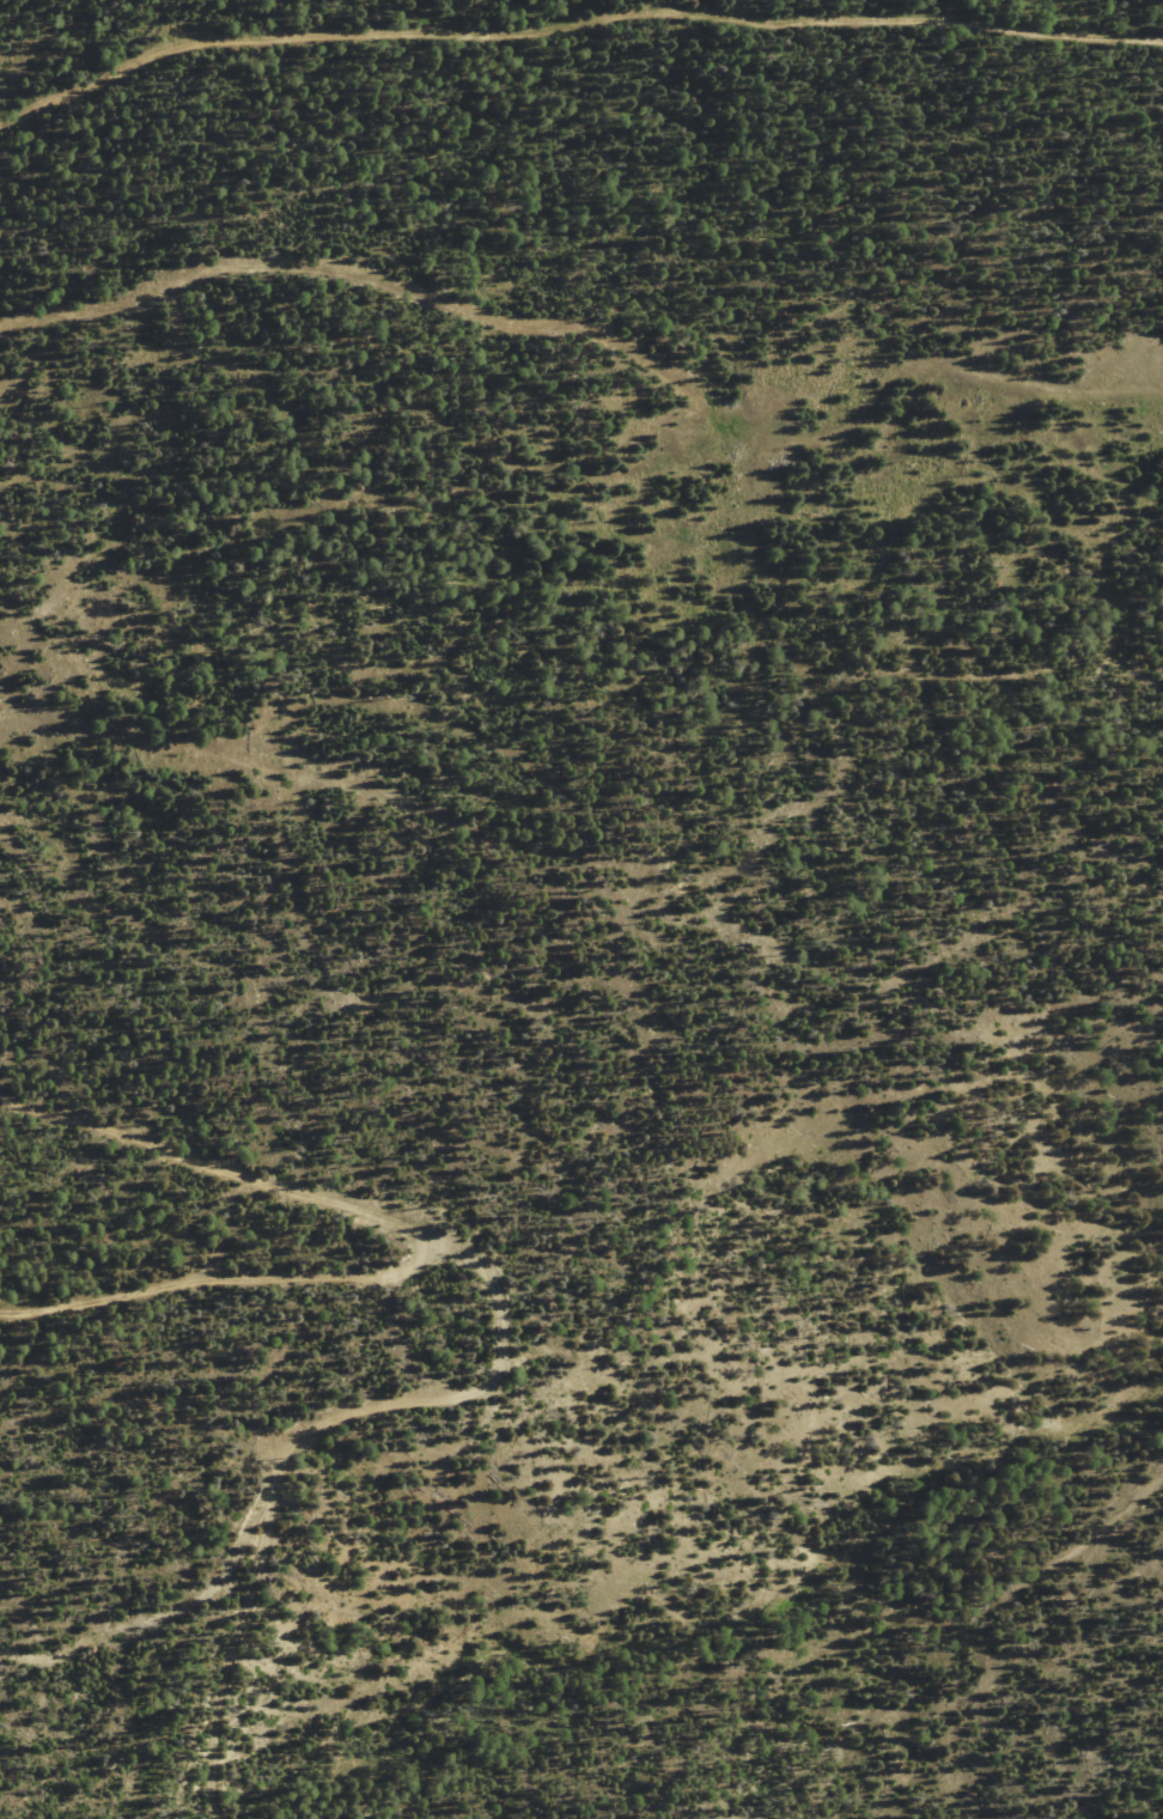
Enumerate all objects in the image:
road: (573, 25)
road: (510, 1331)

